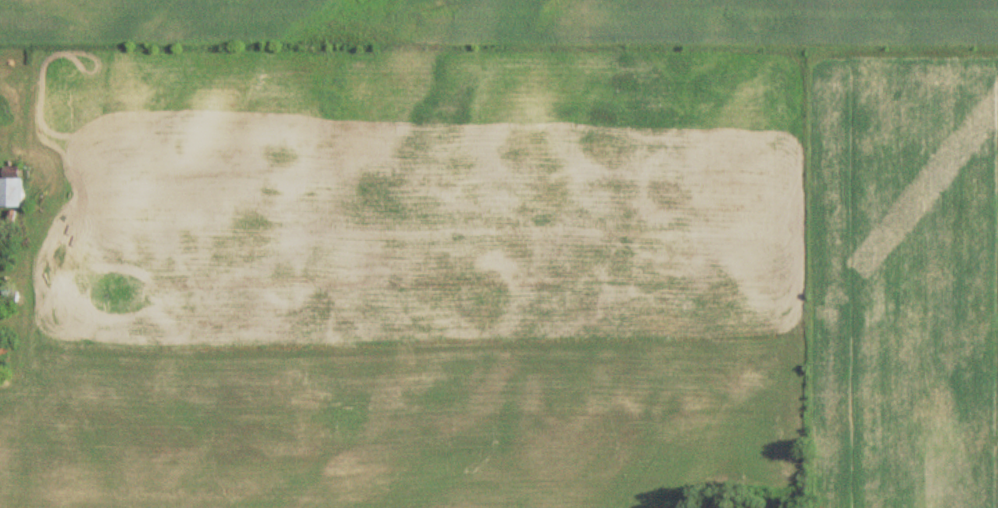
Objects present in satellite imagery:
building: (13, 192)

